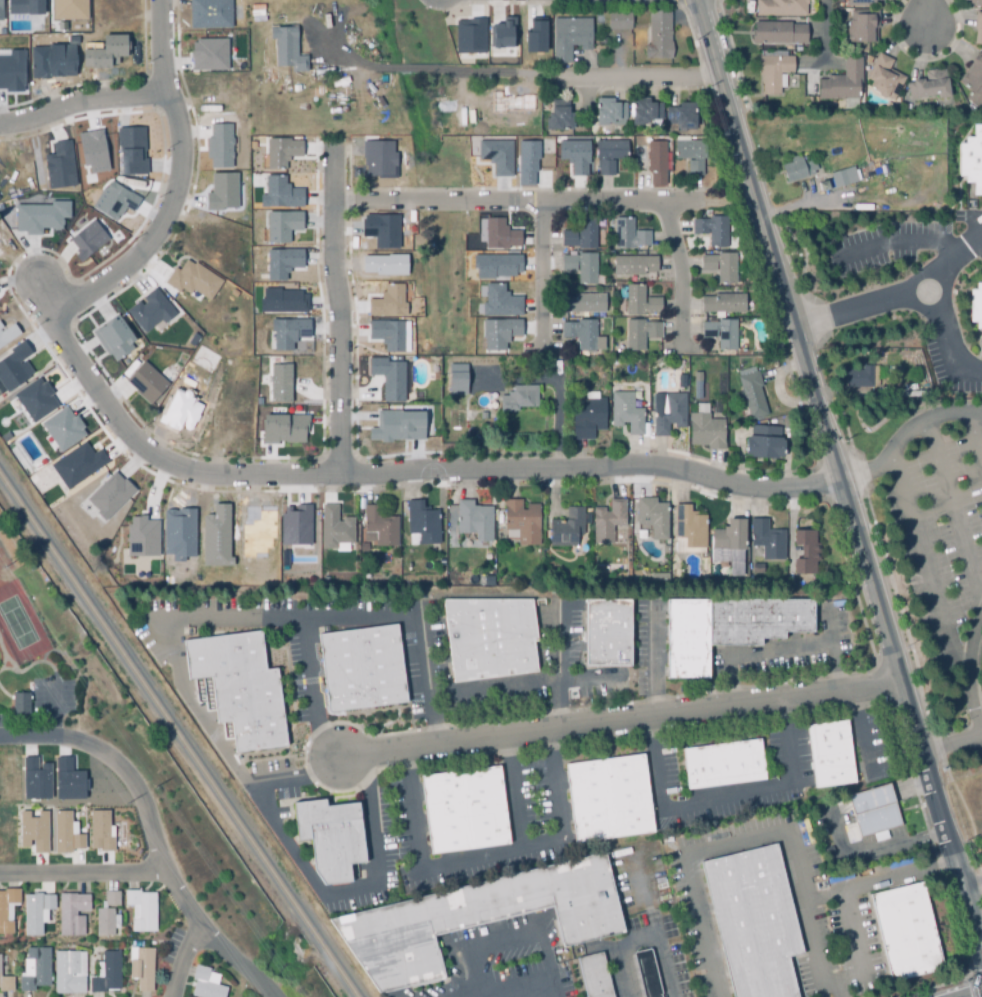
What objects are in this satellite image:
building: (976, 1)
building: (862, 2)
building: (24, 7)
building: (782, 7)
building: (67, 9)
building: (0, 11)
building: (209, 12)
road: (930, 13)
building: (616, 22)
building: (863, 26)
building: (978, 28)
road: (823, 29)
building: (779, 32)
building: (502, 33)
building: (534, 35)
building: (467, 36)
building: (660, 36)
building: (569, 37)
building: (102, 52)
building: (284, 52)
building: (207, 55)
building: (50, 61)
road: (440, 69)
building: (10, 71)
building: (776, 72)
building: (885, 77)
road: (621, 79)
building: (974, 81)
building: (844, 83)
building: (931, 85)
road: (82, 104)
building: (647, 111)
building: (610, 112)
building: (683, 115)
building: (561, 116)
building: (219, 145)
building: (282, 150)
building: (90, 152)
building: (128, 152)
building: (575, 154)
building: (612, 154)
building: (693, 155)
building: (494, 156)
building: (375, 159)
building: (972, 159)
building: (524, 161)
building: (658, 163)
building: (58, 167)
building: (799, 169)
building: (845, 176)
road: (177, 183)
building: (824, 183)
building: (221, 191)
building: (278, 193)
road: (738, 198)
building: (111, 201)
road: (528, 202)
building: (37, 218)
building: (282, 225)
building: (713, 230)
building: (379, 231)
building: (501, 234)
building: (582, 235)
building: (630, 235)
building: (86, 239)
road: (900, 247)
road: (959, 252)
building: (280, 263)
building: (383, 265)
building: (636, 265)
building: (493, 266)
building: (722, 266)
building: (583, 267)
road: (678, 272)
road: (546, 275)
building: (192, 279)
road: (946, 291)
building: (640, 301)
building: (278, 302)
building: (386, 303)
building: (498, 303)
building: (585, 303)
building: (725, 303)
building: (976, 305)
building: (147, 312)
road: (848, 313)
road: (338, 319)
building: (286, 332)
building: (497, 333)
building: (7, 334)
building: (584, 334)
building: (642, 334)
building: (723, 334)
building: (385, 335)
building: (114, 337)
road: (946, 358)
building: (12, 367)
building: (389, 377)
building: (700, 377)
building: (860, 377)
building: (456, 378)
building: (143, 383)
building: (279, 383)
building: (752, 395)
building: (36, 399)
building: (520, 399)
building: (630, 408)
building: (178, 411)
building: (672, 414)
building: (589, 417)
building: (285, 427)
building: (395, 427)
building: (63, 428)
road: (904, 430)
building: (708, 431)
road: (975, 433)
building: (766, 443)
road: (834, 446)
building: (75, 465)
road: (385, 474)
building: (108, 496)
road: (954, 511)
building: (652, 518)
building: (607, 522)
building: (522, 523)
building: (474, 524)
building: (295, 526)
building: (422, 526)
building: (380, 528)
building: (566, 529)
building: (335, 530)
building: (688, 532)
building: (179, 533)
building: (143, 537)
building: (214, 537)
building: (728, 540)
building: (767, 541)
building: (804, 553)
power tower: (5, 566)
road: (930, 566)
building: (757, 570)
building: (658, 576)
building: (475, 581)
building: (485, 584)
road: (249, 620)
building: (726, 629)
building: (607, 634)
building: (489, 639)
road: (832, 646)
road: (776, 653)
building: (361, 668)
road: (971, 676)
road: (592, 682)
building: (239, 687)
road: (525, 688)
road: (311, 702)
building: (20, 705)
road: (620, 716)
road: (859, 731)
railway: (177, 736)
road: (954, 743)
building: (830, 755)
building: (723, 765)
building: (34, 780)
building: (67, 780)
road: (913, 786)
power tower: (156, 789)
road: (512, 793)
building: (608, 799)
road: (870, 800)
power tower: (122, 802)
building: (465, 811)
building: (874, 813)
road: (667, 817)
building: (33, 831)
building: (99, 832)
building: (64, 833)
road: (158, 833)
building: (331, 839)
building: (981, 839)
road: (749, 840)
road: (869, 849)
road: (481, 864)
road: (84, 870)
road: (306, 873)
road: (885, 878)
road: (976, 890)
road: (646, 893)
building: (112, 900)
road: (976, 908)
building: (7, 909)
building: (35, 912)
building: (142, 912)
building: (72, 916)
building: (478, 919)
building: (753, 922)
building: (105, 924)
road: (539, 924)
building: (906, 933)
road: (643, 940)
road: (856, 947)
building: (0, 954)
road: (186, 960)
building: (142, 970)
building: (35, 971)
building: (70, 974)
building: (107, 974)
building: (647, 974)
building: (594, 976)
building: (206, 985)
building: (6, 986)
road: (554, 988)
road: (473, 994)

